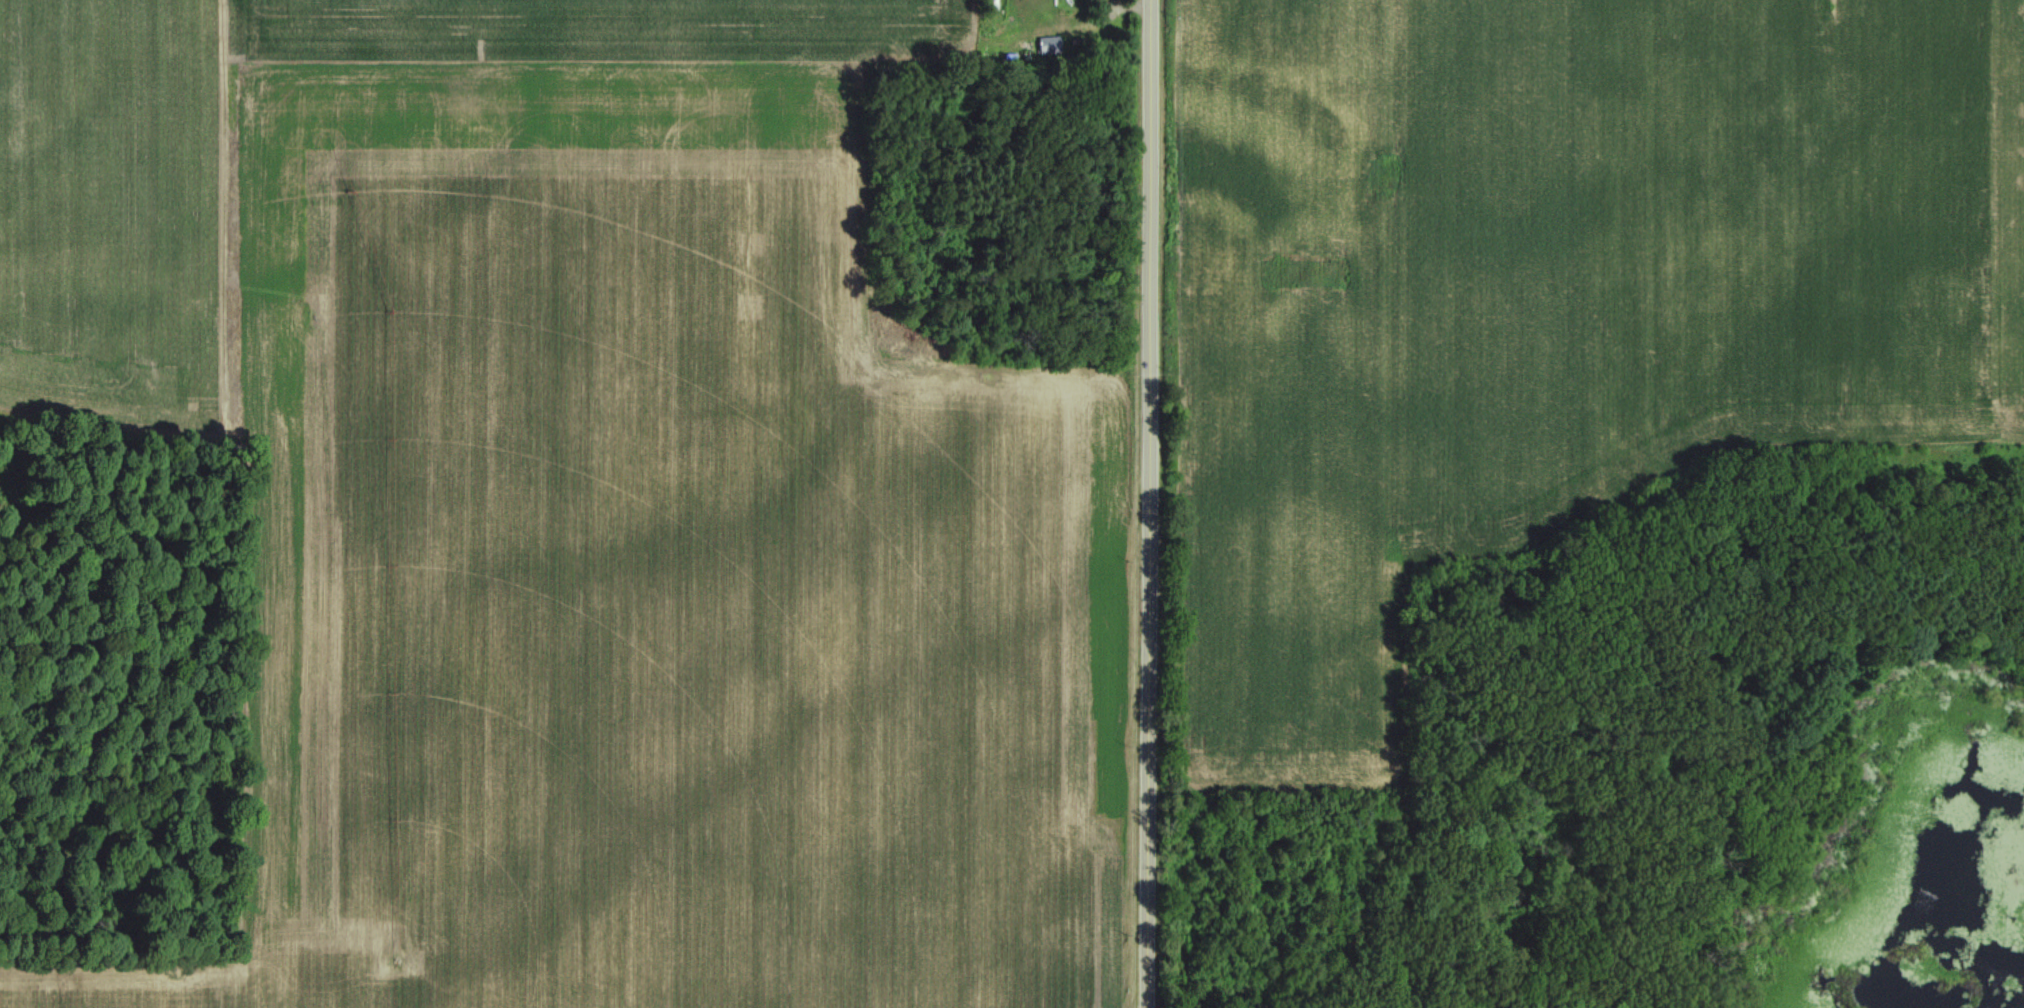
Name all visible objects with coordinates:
road: (1150, 504)

